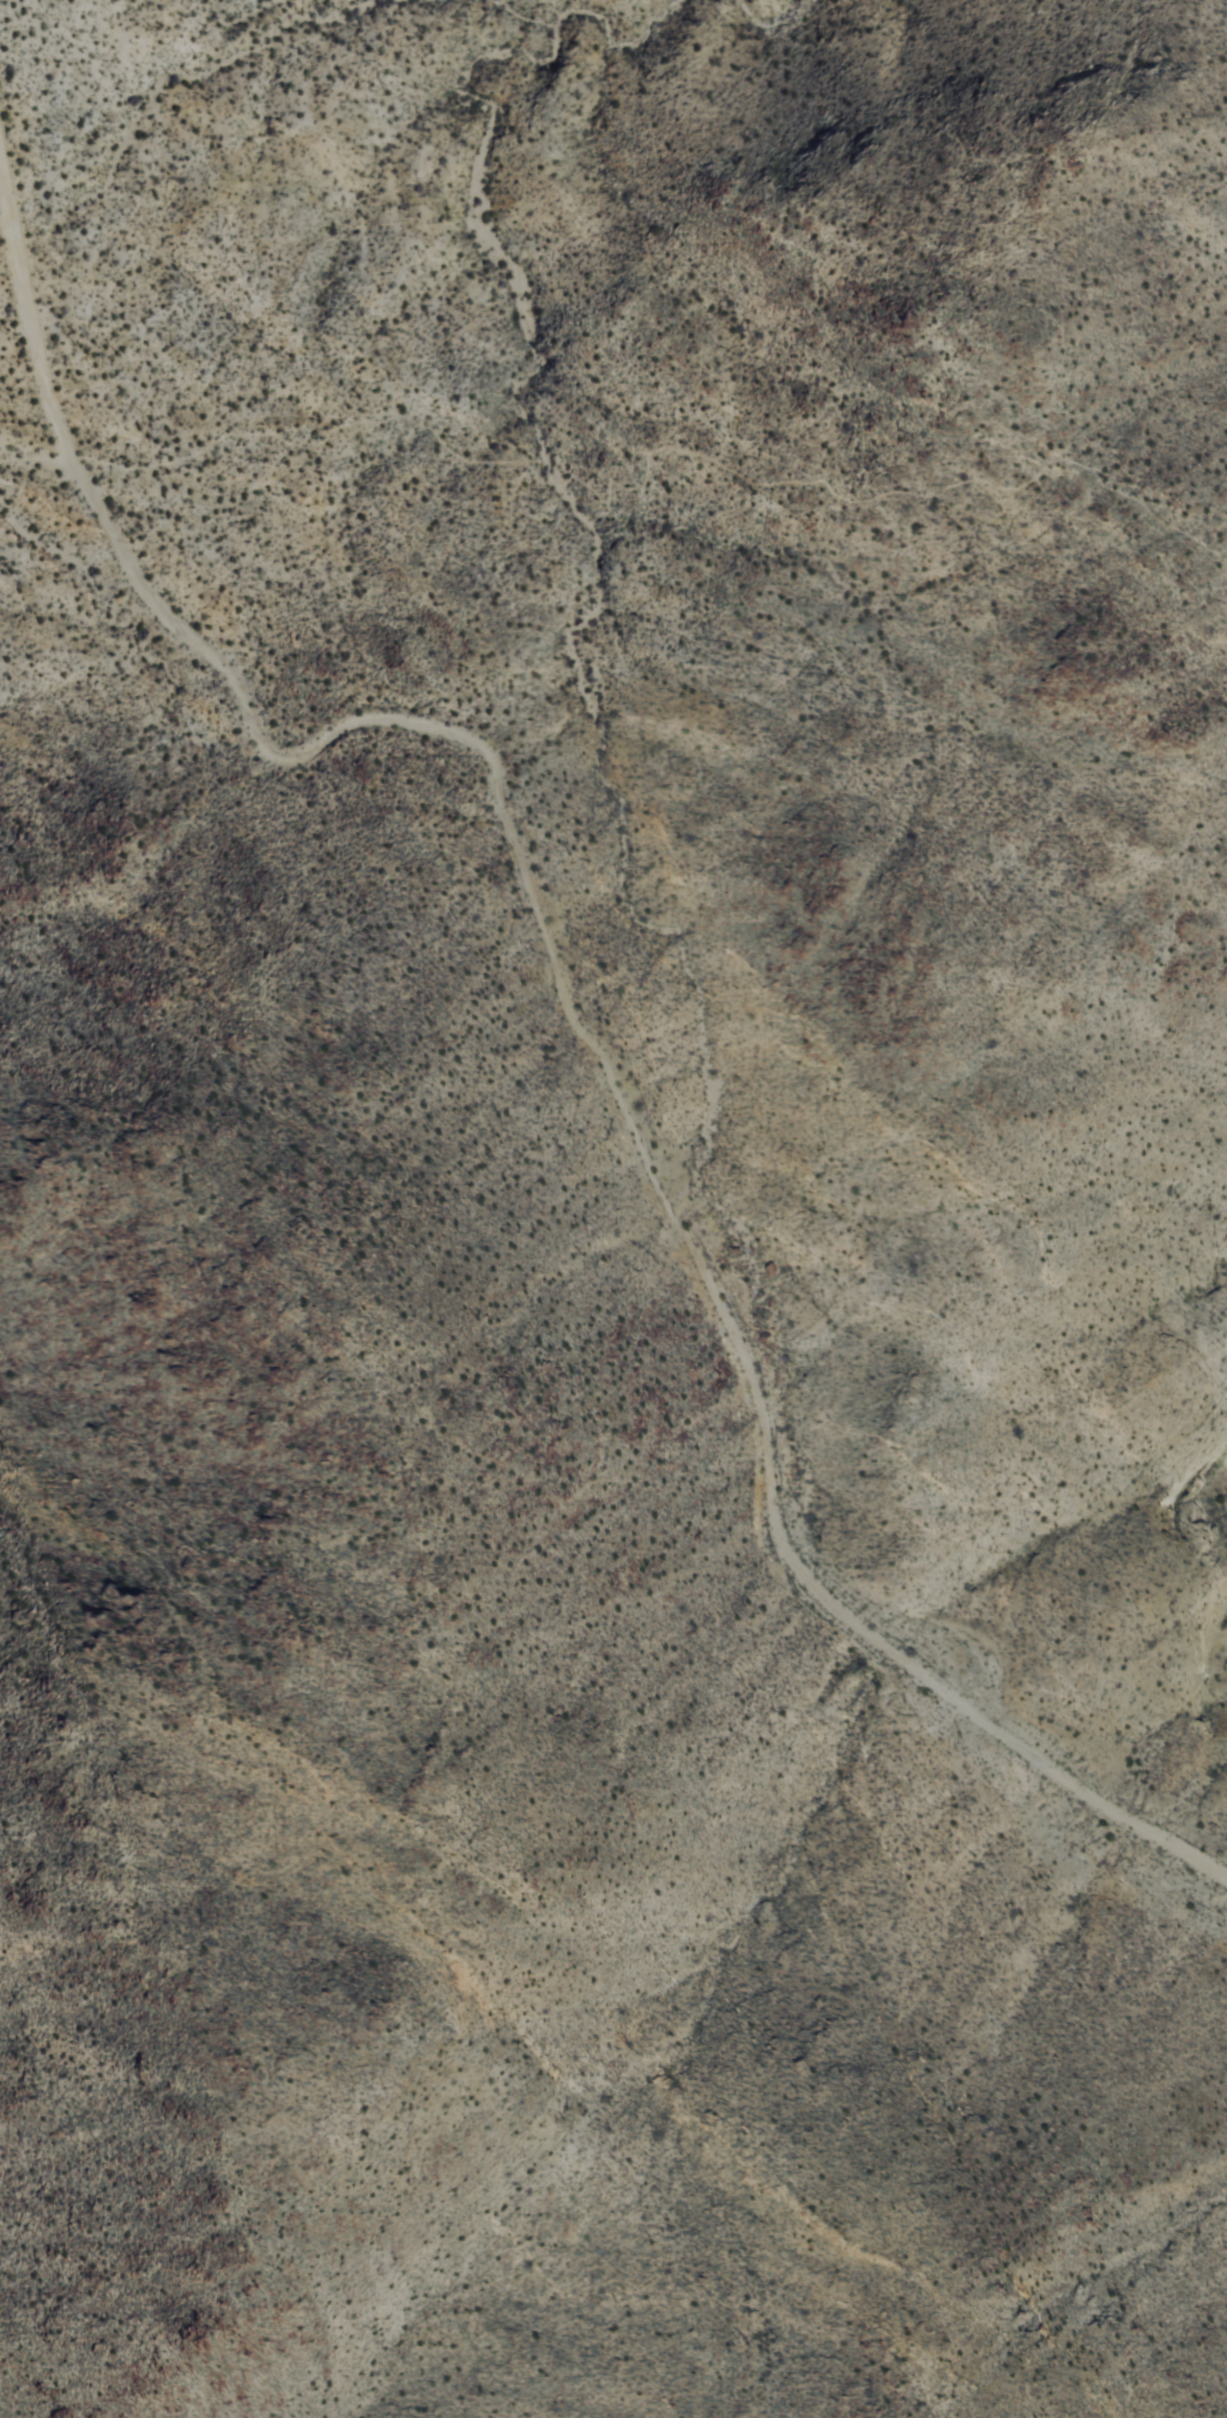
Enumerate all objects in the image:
road: (647, 459)
road: (35, 463)
road: (566, 1007)

